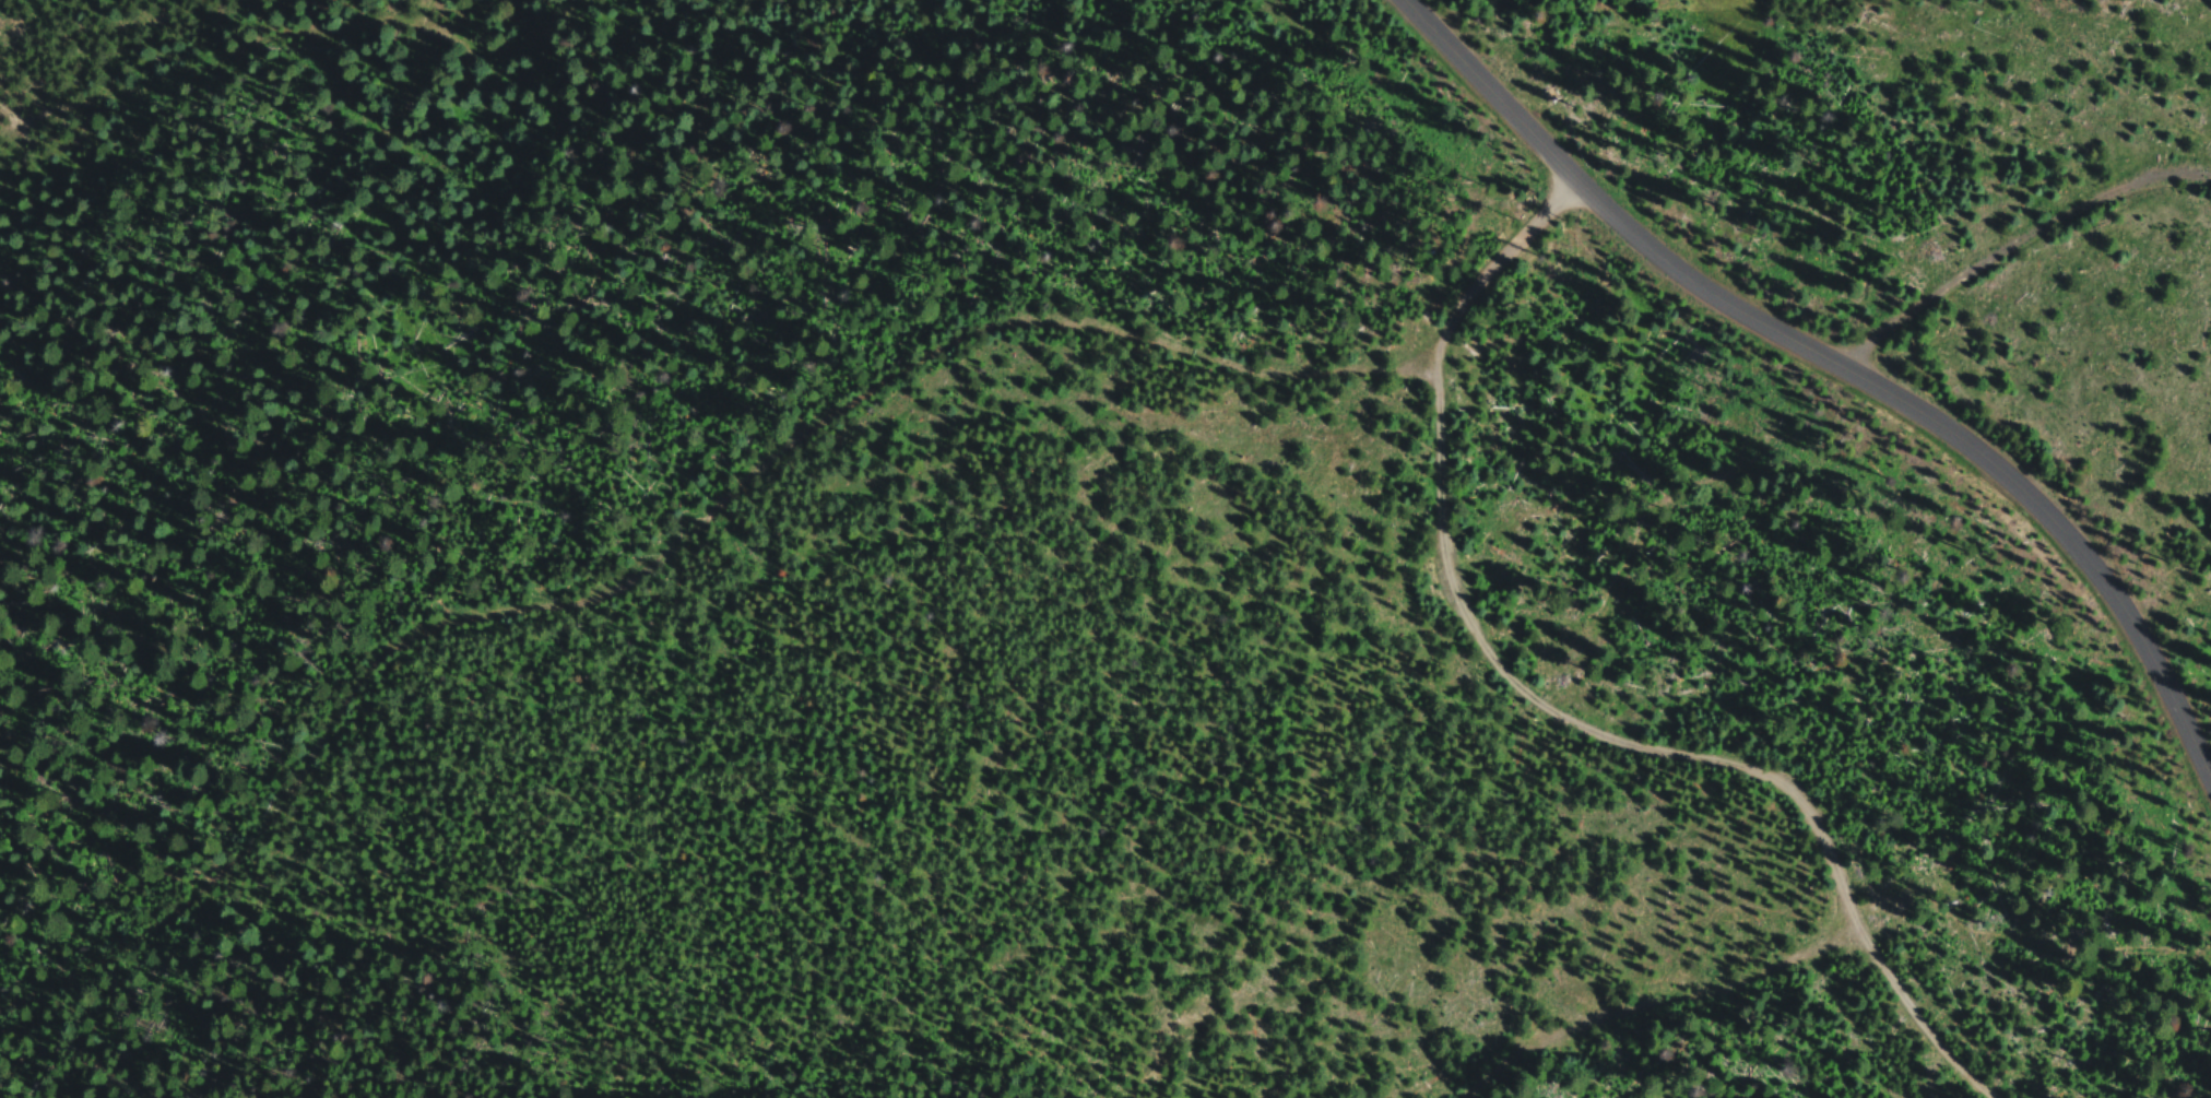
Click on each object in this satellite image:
road: (2011, 253)
road: (1835, 369)

